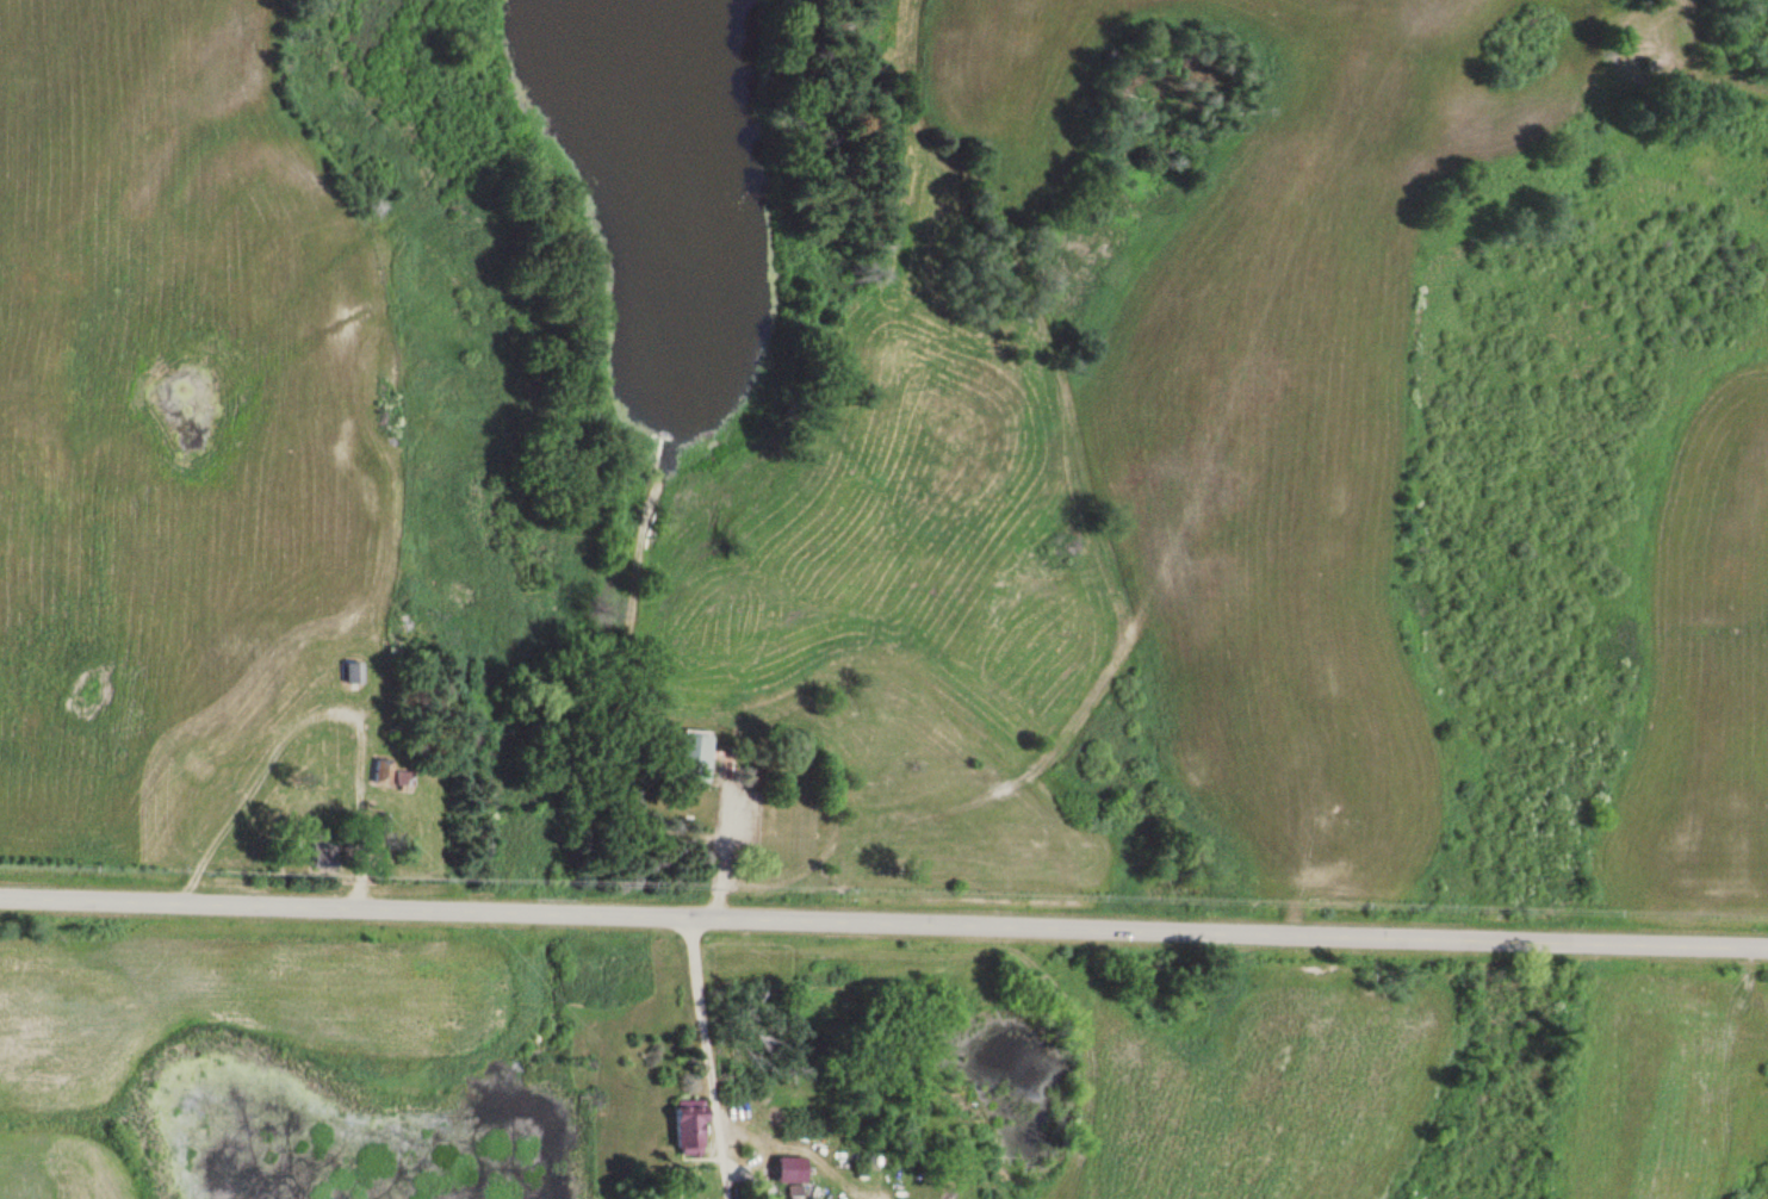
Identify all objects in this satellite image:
building: (345, 671)
building: (677, 758)
building: (372, 770)
building: (398, 778)
road: (883, 918)
building: (678, 1126)
building: (788, 1192)

